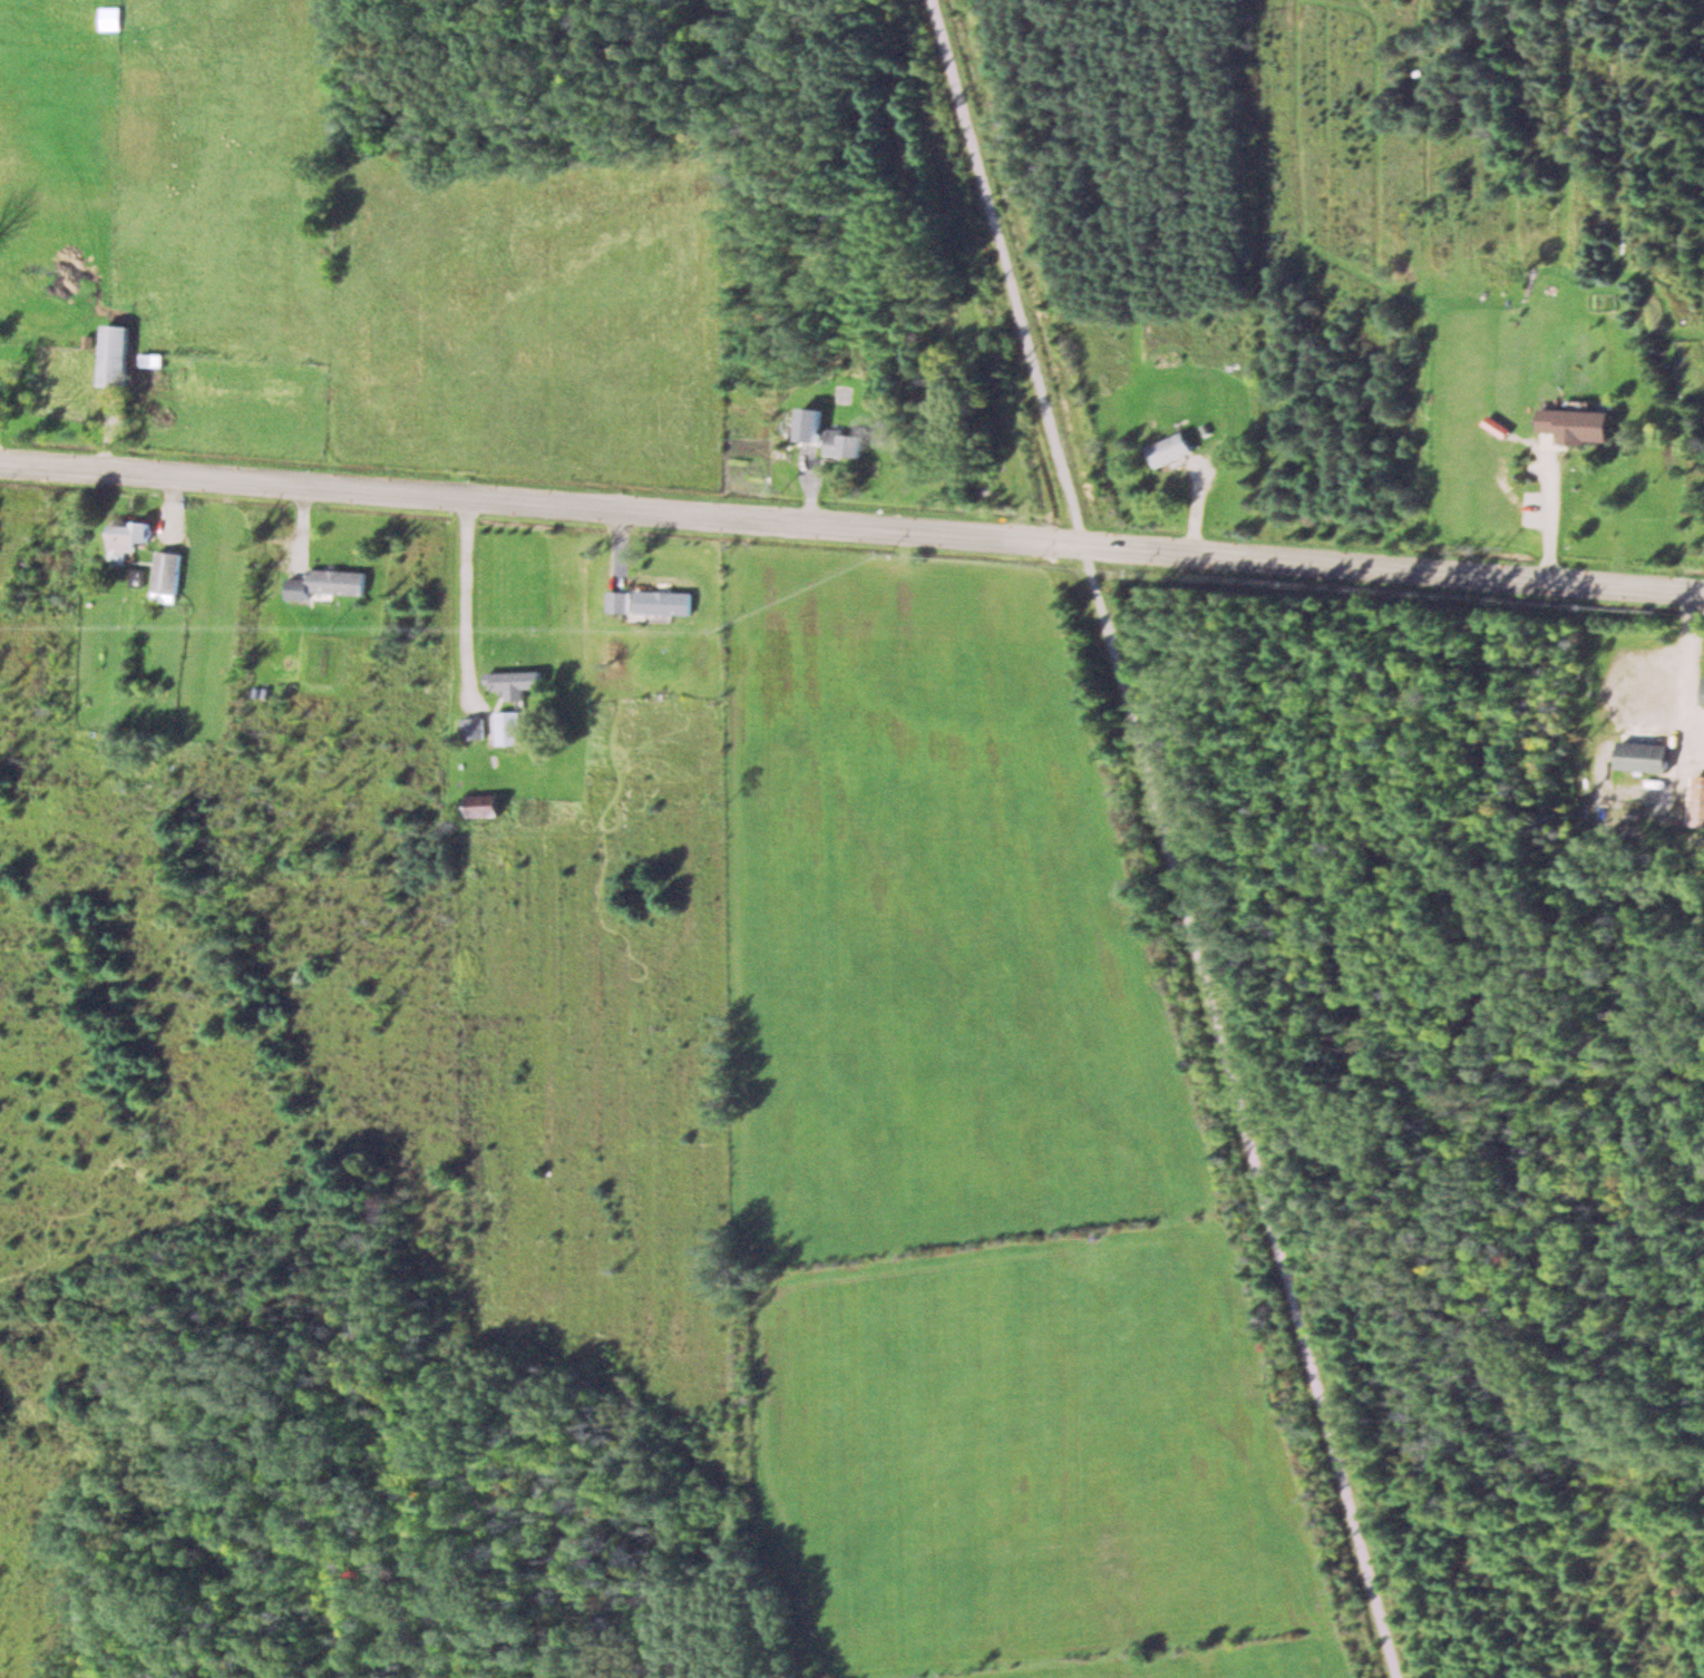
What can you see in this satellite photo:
building: (107, 17)
building: (114, 353)
building: (808, 423)
building: (1578, 423)
building: (841, 442)
building: (1170, 448)
road: (851, 523)
building: (127, 536)
building: (165, 576)
building: (134, 578)
building: (324, 583)
building: (646, 601)
building: (513, 682)
building: (1701, 691)
building: (507, 726)
building: (470, 728)
building: (1643, 755)
building: (1697, 801)
building: (483, 804)
road: (1165, 838)

